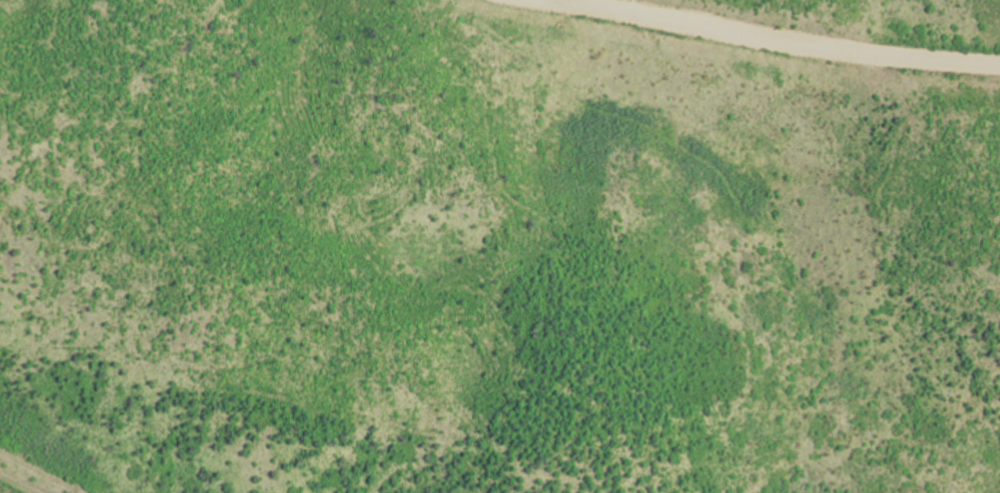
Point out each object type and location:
road: (785, 42)
road: (29, 479)

